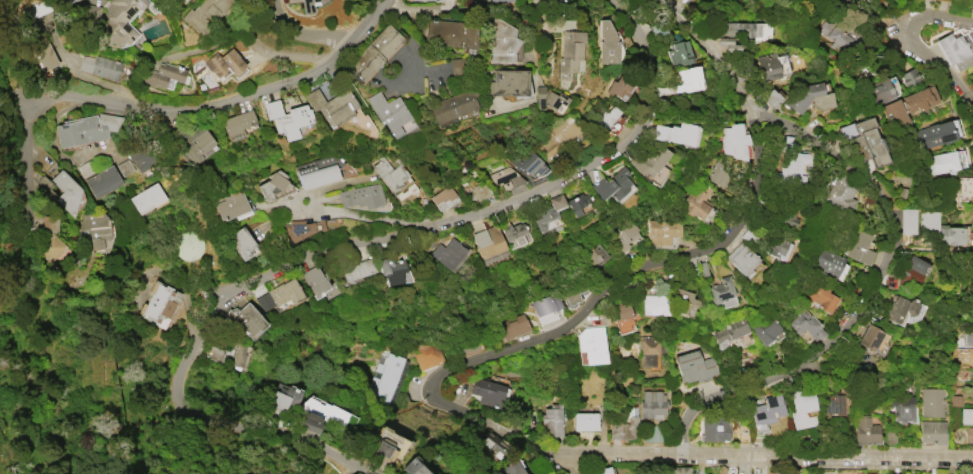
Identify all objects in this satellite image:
building: (441, 0)
building: (483, 0)
building: (501, 0)
building: (554, 0)
building: (67, 1)
building: (182, 1)
road: (578, 4)
building: (308, 5)
building: (35, 9)
road: (492, 10)
road: (411, 12)
building: (205, 13)
road: (937, 13)
road: (245, 20)
building: (119, 21)
building: (737, 32)
road: (303, 33)
building: (450, 33)
building: (835, 33)
building: (502, 41)
building: (608, 44)
road: (210, 46)
building: (956, 48)
building: (570, 52)
building: (39, 53)
building: (679, 53)
building: (375, 55)
road: (287, 58)
building: (224, 62)
road: (940, 63)
building: (772, 65)
building: (99, 66)
building: (162, 74)
road: (9, 75)
building: (911, 76)
building: (688, 79)
building: (507, 82)
building: (618, 87)
building: (884, 89)
building: (771, 97)
building: (808, 97)
building: (920, 98)
building: (550, 99)
building: (332, 105)
building: (452, 105)
road: (170, 107)
building: (389, 112)
building: (895, 113)
building: (286, 118)
building: (609, 118)
building: (237, 124)
building: (85, 128)
building: (660, 132)
building: (558, 133)
building: (683, 133)
building: (935, 134)
building: (734, 140)
building: (865, 140)
building: (192, 142)
building: (142, 157)
building: (650, 159)
building: (526, 162)
building: (942, 163)
building: (796, 165)
building: (124, 167)
building: (86, 168)
building: (318, 170)
building: (718, 174)
building: (505, 177)
building: (395, 180)
building: (102, 181)
building: (273, 184)
building: (612, 184)
building: (45, 187)
road: (329, 187)
building: (963, 187)
building: (65, 191)
building: (478, 191)
building: (841, 193)
building: (443, 197)
building: (147, 198)
building: (364, 201)
building: (577, 203)
building: (696, 203)
building: (233, 211)
building: (549, 212)
road: (346, 215)
building: (908, 220)
building: (95, 228)
building: (301, 228)
building: (940, 229)
building: (512, 230)
building: (662, 230)
building: (625, 235)
building: (49, 237)
building: (488, 240)
building: (187, 243)
road: (347, 246)
building: (244, 247)
building: (779, 247)
building: (859, 247)
building: (448, 253)
building: (597, 255)
building: (742, 259)
building: (829, 262)
building: (703, 268)
building: (913, 269)
building: (357, 270)
building: (391, 270)
road: (621, 274)
building: (315, 281)
road: (869, 287)
building: (721, 289)
building: (972, 290)
building: (573, 292)
building: (280, 294)
building: (821, 296)
building: (684, 300)
building: (159, 303)
building: (546, 304)
building: (655, 304)
building: (901, 308)
building: (622, 315)
building: (245, 318)
building: (806, 324)
building: (513, 325)
building: (766, 328)
building: (730, 331)
building: (870, 336)
building: (968, 337)
building: (593, 348)
building: (649, 349)
building: (215, 353)
building: (427, 354)
building: (236, 355)
building: (961, 358)
building: (696, 373)
building: (388, 378)
building: (487, 392)
building: (284, 396)
building: (933, 402)
building: (651, 403)
building: (832, 404)
building: (802, 407)
building: (902, 407)
building: (768, 409)
building: (321, 415)
building: (966, 416)
building: (552, 420)
building: (585, 421)
building: (624, 426)
building: (714, 429)
building: (866, 430)
building: (933, 432)
building: (968, 434)
building: (389, 443)
building: (494, 443)
road: (762, 454)
building: (414, 467)
building: (513, 467)
building: (679, 470)
building: (602, 471)
building: (777, 472)
building: (870, 473)
building: (884, 473)
building: (891, 473)
building: (966, 473)

